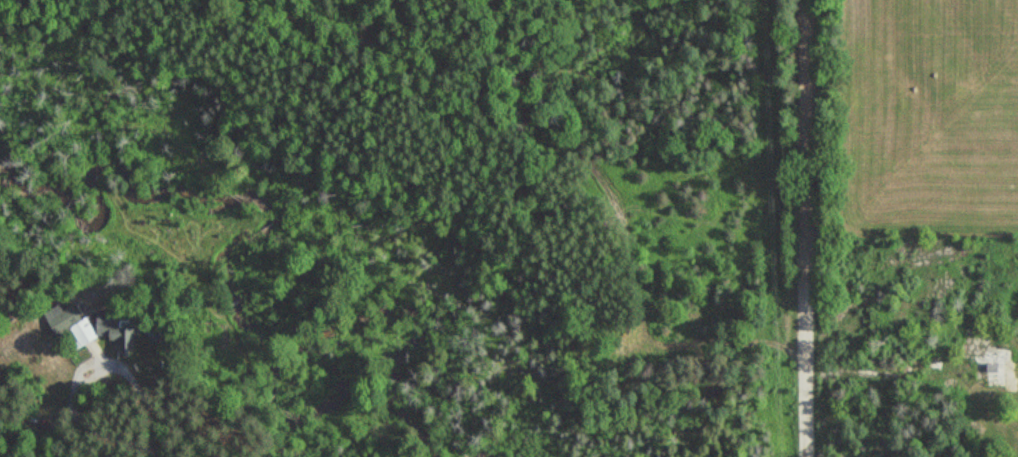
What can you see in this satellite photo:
road: (812, 228)
building: (75, 324)
building: (1002, 370)
road: (123, 415)

